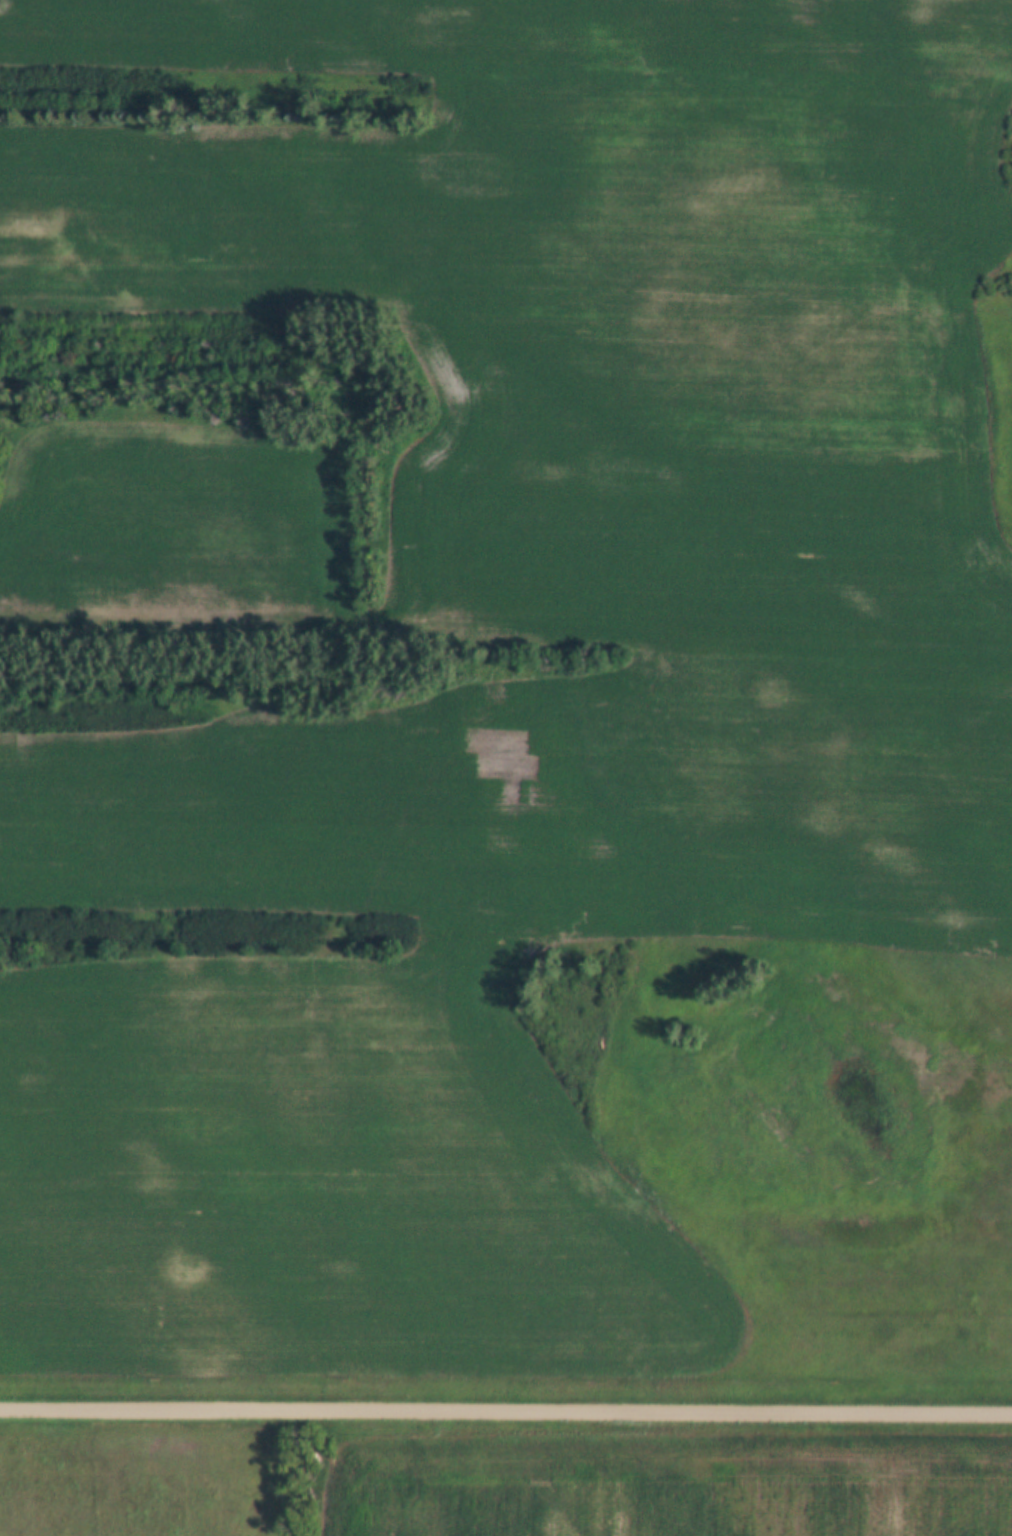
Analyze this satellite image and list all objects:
road: (506, 1405)

